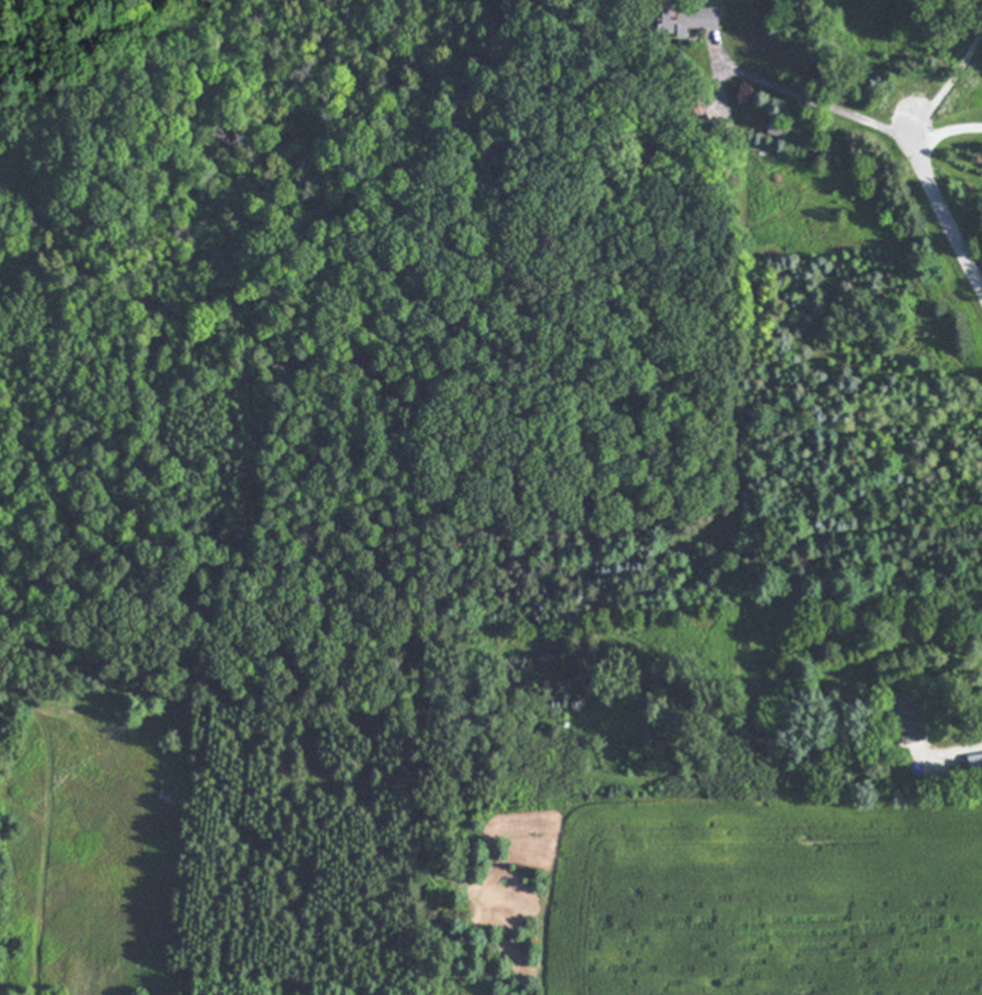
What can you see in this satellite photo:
building: (689, 18)
road: (862, 118)
road: (940, 206)
building: (909, 722)
road: (963, 749)
building: (976, 765)

